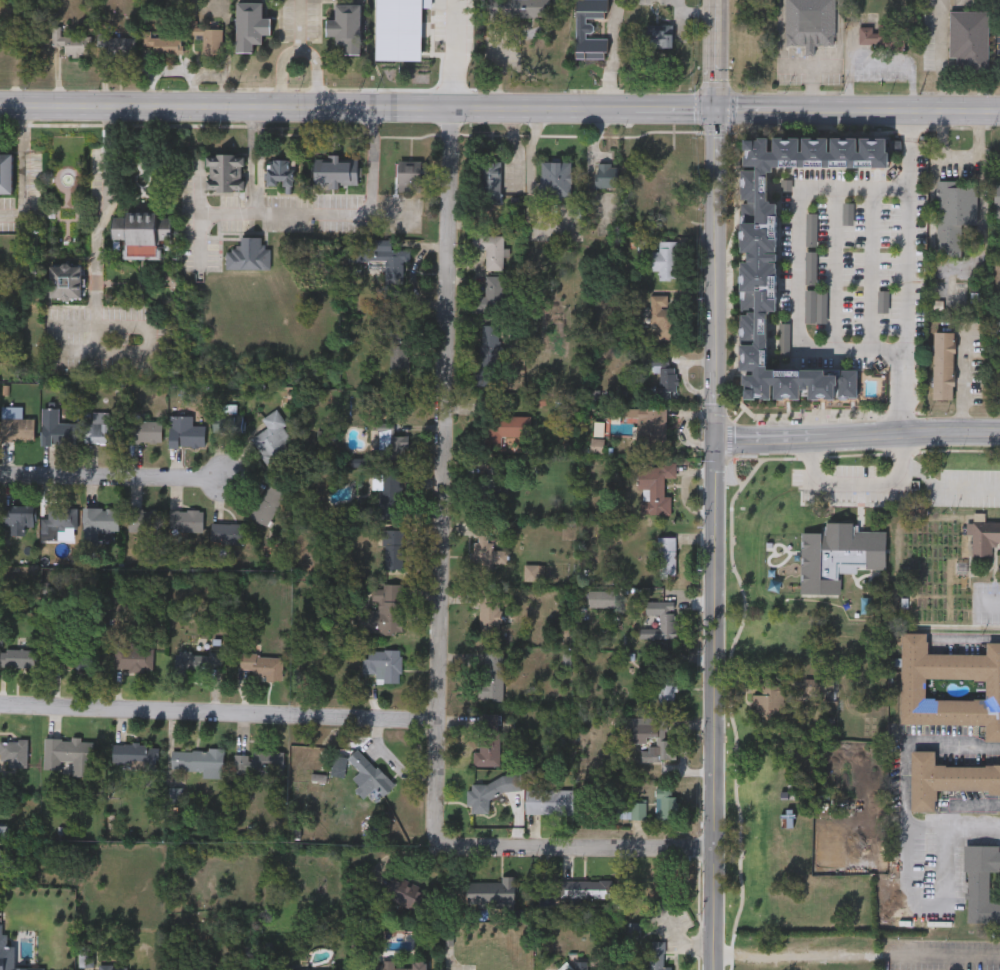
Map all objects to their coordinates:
building: (519, 8)
road: (690, 11)
building: (589, 13)
building: (811, 22)
building: (251, 23)
building: (346, 25)
building: (660, 35)
building: (879, 37)
building: (970, 38)
building: (72, 42)
building: (163, 43)
building: (118, 44)
building: (209, 44)
building: (591, 46)
road: (289, 51)
road: (449, 54)
road: (614, 55)
road: (944, 56)
road: (808, 65)
road: (316, 72)
road: (811, 89)
road: (311, 107)
road: (667, 112)
traffic signals: (712, 113)
road: (856, 113)
road: (527, 150)
road: (944, 150)
road: (251, 160)
road: (260, 160)
road: (22, 169)
building: (6, 171)
building: (225, 171)
building: (280, 171)
building: (336, 172)
building: (674, 173)
building: (607, 174)
building: (409, 175)
building: (556, 179)
building: (491, 180)
building: (998, 200)
road: (982, 204)
road: (104, 213)
road: (199, 213)
road: (335, 214)
building: (955, 215)
building: (671, 222)
building: (141, 232)
building: (491, 248)
building: (998, 248)
building: (249, 253)
building: (381, 254)
building: (759, 257)
building: (666, 259)
road: (798, 265)
road: (906, 272)
building: (66, 280)
building: (490, 295)
building: (662, 318)
building: (489, 350)
building: (396, 356)
building: (944, 365)
building: (665, 379)
road: (961, 392)
building: (227, 421)
building: (102, 427)
building: (650, 427)
building: (17, 428)
building: (57, 428)
building: (508, 428)
building: (145, 430)
building: (186, 431)
road: (856, 435)
traffic signals: (713, 437)
building: (274, 438)
building: (391, 443)
road: (912, 447)
road: (109, 476)
road: (895, 481)
road: (712, 485)
building: (653, 486)
building: (388, 498)
building: (268, 504)
building: (60, 518)
building: (144, 519)
building: (18, 520)
building: (188, 520)
building: (100, 521)
building: (228, 532)
building: (983, 538)
building: (393, 548)
building: (486, 552)
building: (668, 556)
building: (839, 556)
building: (596, 597)
road: (990, 602)
road: (437, 608)
building: (386, 611)
building: (489, 614)
building: (668, 624)
road: (966, 636)
building: (765, 645)
building: (70, 652)
building: (133, 656)
building: (18, 657)
building: (199, 661)
building: (383, 664)
building: (263, 665)
building: (493, 676)
building: (662, 680)
building: (912, 688)
building: (768, 701)
road: (217, 711)
building: (648, 725)
building: (490, 739)
building: (662, 751)
building: (14, 753)
building: (135, 753)
building: (70, 755)
building: (771, 759)
building: (199, 761)
building: (261, 763)
building: (368, 774)
building: (947, 779)
road: (902, 788)
building: (486, 793)
building: (550, 801)
building: (761, 802)
building: (667, 803)
building: (630, 811)
building: (3, 830)
building: (981, 883)
building: (586, 888)
building: (407, 893)
building: (492, 893)
road: (930, 907)
building: (87, 954)
building: (657, 955)
road: (855, 957)
building: (383, 965)
building: (581, 965)
building: (114, 967)
building: (306, 969)

